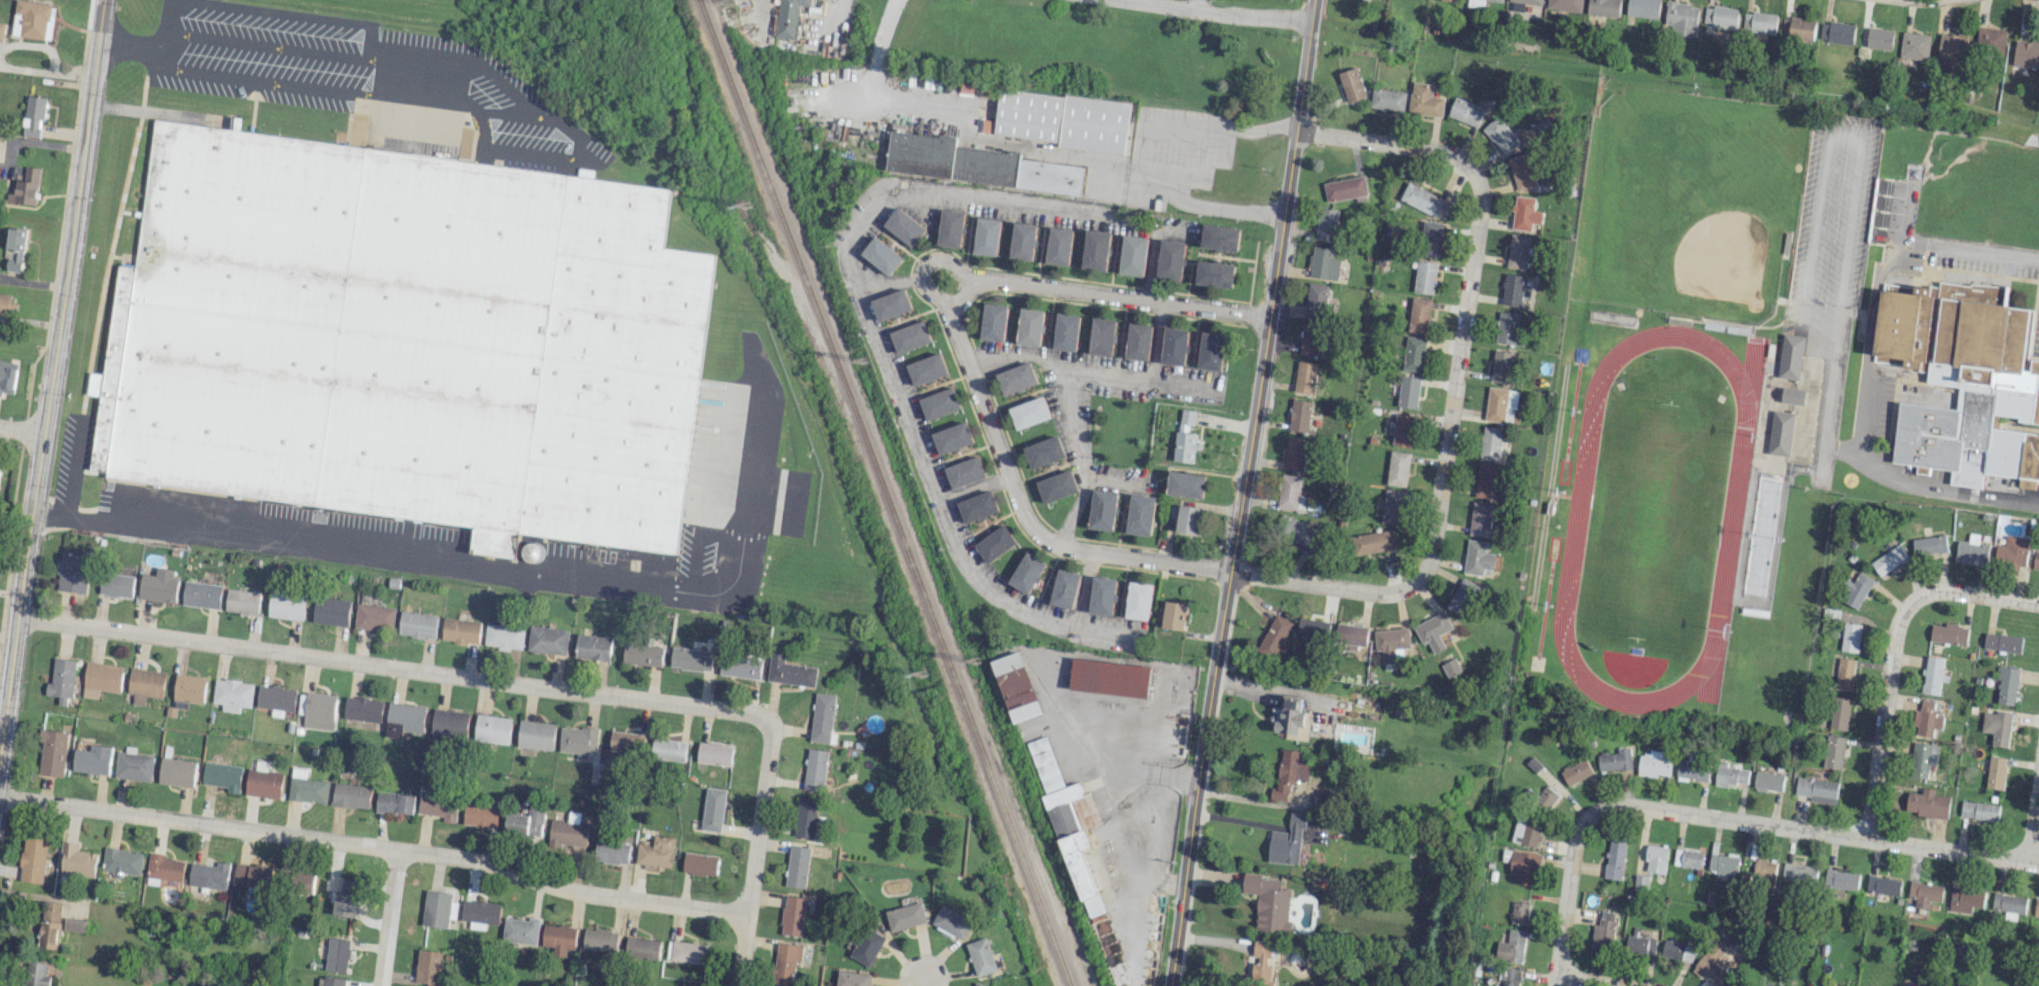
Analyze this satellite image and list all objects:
building: (1368, 0)
building: (1497, 0)
road: (2038, 0)
power tower: (730, 2)
road: (1194, 3)
building: (1476, 3)
building: (1523, 3)
building: (1565, 5)
building: (1603, 7)
building: (1642, 8)
road: (1227, 11)
road: (267, 13)
building: (1719, 16)
building: (788, 17)
building: (1681, 18)
building: (32, 19)
building: (1759, 21)
building: (1801, 28)
building: (1, 31)
building: (1836, 32)
building: (1879, 38)
building: (1990, 41)
building: (1915, 45)
road: (129, 46)
building: (1951, 49)
building: (2026, 53)
road: (167, 61)
road: (382, 72)
road: (276, 84)
building: (1352, 84)
building: (1388, 99)
building: (1425, 100)
road: (965, 110)
building: (1466, 111)
building: (32, 116)
building: (1074, 121)
road: (1835, 134)
building: (1501, 135)
road: (1137, 157)
building: (943, 159)
building: (1525, 170)
building: (1052, 177)
building: (27, 187)
building: (1345, 188)
building: (1425, 200)
power tower: (745, 204)
building: (1525, 213)
building: (1327, 224)
building: (1219, 237)
building: (1431, 238)
building: (1028, 242)
building: (1058, 246)
road: (1899, 246)
building: (15, 248)
building: (1094, 250)
building: (1517, 251)
building: (1132, 255)
building: (884, 256)
road: (926, 259)
building: (1170, 260)
building: (1323, 263)
building: (1214, 274)
building: (1425, 277)
road: (887, 284)
building: (1512, 289)
road: (1102, 294)
building: (1316, 300)
building: (6, 304)
building: (892, 304)
building: (1419, 315)
building: (994, 321)
building: (1032, 327)
building: (1507, 327)
building: (1064, 331)
building: (911, 336)
building: (1101, 336)
building: (406, 338)
building: (1311, 338)
building: (1137, 341)
building: (1173, 346)
building: (1210, 351)
building: (1414, 353)
building: (1791, 356)
road: (882, 358)
power tower: (864, 361)
building: (1502, 366)
building: (927, 368)
road: (1089, 368)
road: (51, 371)
building: (1028, 374)
building: (7, 376)
building: (1305, 377)
road: (1455, 379)
building: (1965, 380)
building: (1409, 391)
building: (1793, 395)
building: (940, 403)
building: (1500, 404)
building: (1034, 410)
building: (1299, 415)
road: (1862, 416)
building: (1403, 430)
road: (21, 431)
building: (1780, 432)
building: (953, 437)
building: (1185, 437)
building: (1490, 442)
road: (1077, 446)
building: (1044, 451)
building: (1294, 453)
road: (1875, 461)
building: (1398, 468)
building: (0, 470)
building: (966, 472)
building: (1486, 480)
building: (1185, 484)
building: (1056, 486)
road: (973, 488)
railway: (886, 492)
building: (1290, 492)
road: (1241, 493)
building: (978, 506)
building: (1393, 506)
building: (1101, 509)
road: (1073, 510)
building: (1139, 514)
road: (1024, 515)
building: (1480, 518)
track: (1576, 518)
park: (1655, 518)
building: (1187, 519)
building: (1296, 531)
building: (1373, 542)
building: (996, 543)
building: (1929, 543)
road: (364, 548)
building: (2012, 552)
building: (1971, 553)
building: (1477, 557)
building: (1888, 559)
building: (2036, 559)
building: (73, 573)
building: (117, 585)
building: (159, 586)
building: (1065, 588)
building: (1854, 590)
building: (202, 594)
building: (1101, 595)
road: (1986, 595)
building: (1462, 597)
building: (1139, 601)
building: (242, 602)
building: (286, 605)
building: (331, 611)
building: (1174, 615)
building: (375, 617)
building: (418, 625)
building: (1314, 629)
building: (1433, 630)
building: (461, 631)
road: (1102, 632)
building: (1949, 633)
building: (1352, 634)
building: (1276, 636)
building: (505, 637)
building: (1849, 637)
building: (548, 639)
building: (1391, 642)
building: (2002, 642)
building: (593, 646)
building: (643, 654)
building: (691, 658)
power tower: (976, 660)
building: (740, 665)
road: (392, 667)
building: (1450, 667)
building: (789, 671)
power tower: (922, 672)
building: (1844, 674)
building: (1932, 674)
building: (1110, 678)
building: (101, 679)
building: (61, 680)
building: (145, 685)
building: (2007, 685)
building: (1017, 686)
building: (189, 689)
building: (232, 694)
building: (276, 699)
road: (1884, 704)
building: (363, 709)
building: (318, 711)
building: (1838, 713)
building: (1291, 718)
building: (404, 719)
building: (1926, 719)
building: (448, 725)
building: (1997, 726)
building: (492, 729)
building: (536, 735)
building: (577, 740)
building: (626, 742)
road: (1122, 748)
building: (668, 749)
building: (1833, 751)
building: (53, 753)
building: (1922, 759)
building: (93, 760)
building: (1614, 760)
building: (1654, 763)
building: (134, 766)
building: (1692, 767)
building: (815, 769)
building: (1575, 771)
building: (177, 772)
building: (1995, 772)
building: (1289, 773)
building: (1729, 774)
building: (222, 776)
building: (1768, 780)
building: (263, 782)
building: (306, 787)
building: (1816, 789)
building: (351, 796)
building: (1545, 799)
building: (395, 803)
building: (1927, 803)
building: (438, 806)
building: (713, 809)
building: (1978, 810)
building: (480, 815)
building: (806, 817)
road: (2033, 818)
building: (526, 821)
building: (1069, 823)
road: (1801, 829)
building: (1527, 830)
building: (567, 833)
building: (1286, 841)
road: (375, 847)
building: (613, 850)
road: (1153, 850)
road: (753, 851)
building: (656, 853)
building: (1614, 858)
building: (1656, 858)
building: (1688, 858)
building: (33, 860)
building: (77, 861)
building: (122, 861)
building: (700, 863)
road: (1123, 863)
building: (1724, 864)
building: (798, 866)
building: (1524, 867)
building: (164, 869)
building: (1764, 872)
building: (209, 875)
building: (252, 875)
building: (1798, 875)
building: (1840, 879)
building: (304, 883)
building: (1640, 883)
building: (1882, 885)
building: (348, 886)
building: (1924, 893)
building: (1965, 898)
building: (1268, 902)
building: (2008, 903)
building: (345, 904)
building: (439, 908)
building: (2036, 908)
road: (1564, 909)
building: (1519, 912)
building: (480, 914)
building: (793, 915)
building: (907, 917)
road: (387, 918)
building: (952, 921)
building: (50, 925)
building: (75, 925)
building: (521, 930)
building: (1603, 930)
building: (559, 938)
building: (1640, 944)
building: (868, 946)
building: (1511, 946)
building: (647, 949)
building: (1677, 949)
building: (337, 955)
building: (981, 956)
building: (1713, 961)
building: (786, 962)
building: (1261, 964)
building: (428, 967)
building: (38, 974)
building: (1509, 977)
road: (1588, 980)
building: (330, 981)
road: (922, 981)
building: (1731, 984)
building: (685, 985)
building: (978, 985)

